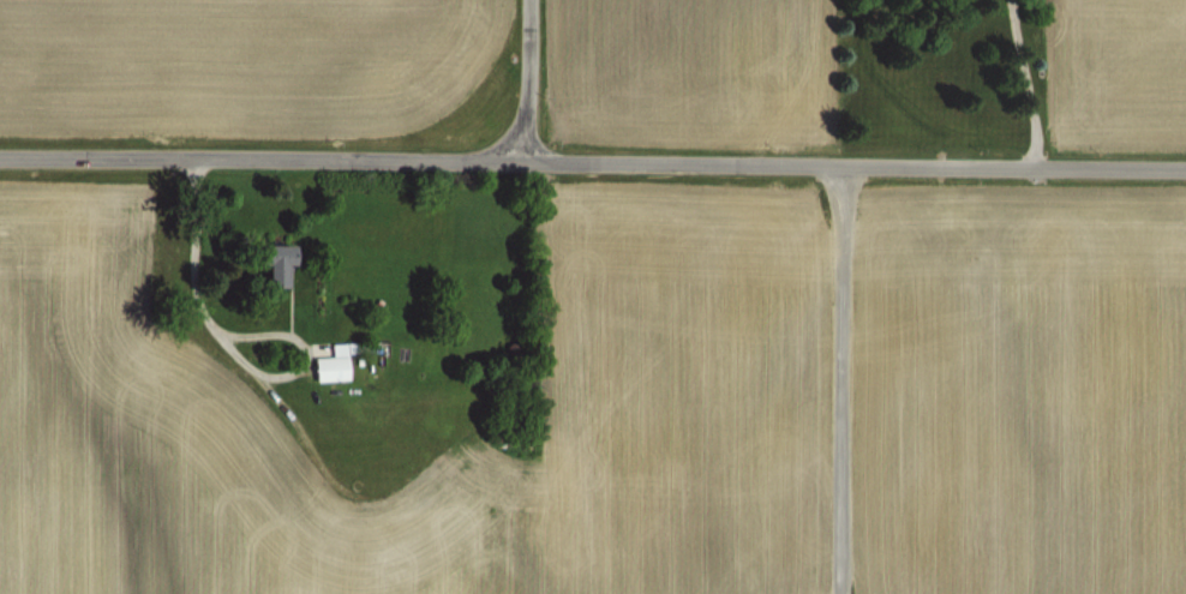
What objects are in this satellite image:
crop: (693, 60)
crop: (1121, 64)
road: (528, 79)
road: (1026, 83)
crop: (269, 94)
road: (593, 158)
building: (266, 263)
road: (226, 343)
building: (328, 365)
road: (839, 377)
crop: (49, 389)
crop: (855, 390)
crop: (196, 492)
building: (376, 552)

